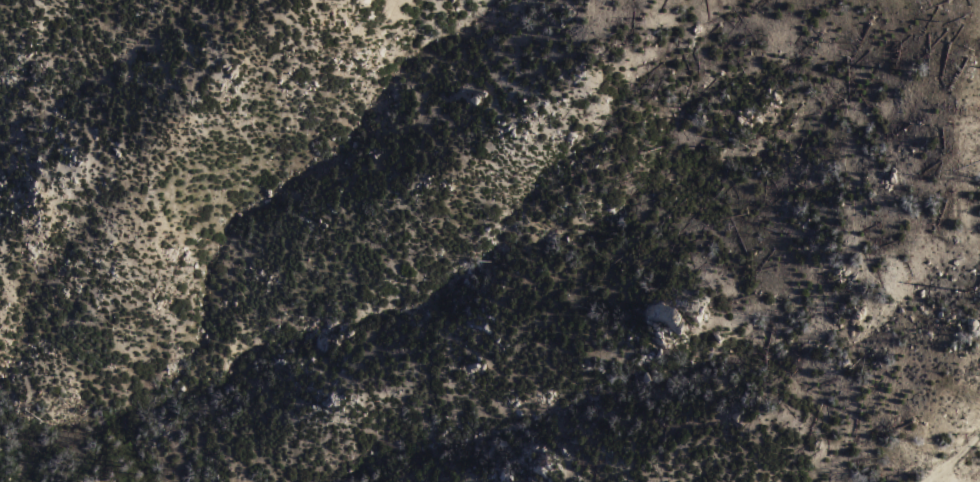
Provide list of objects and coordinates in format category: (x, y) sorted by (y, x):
road: (953, 458)

